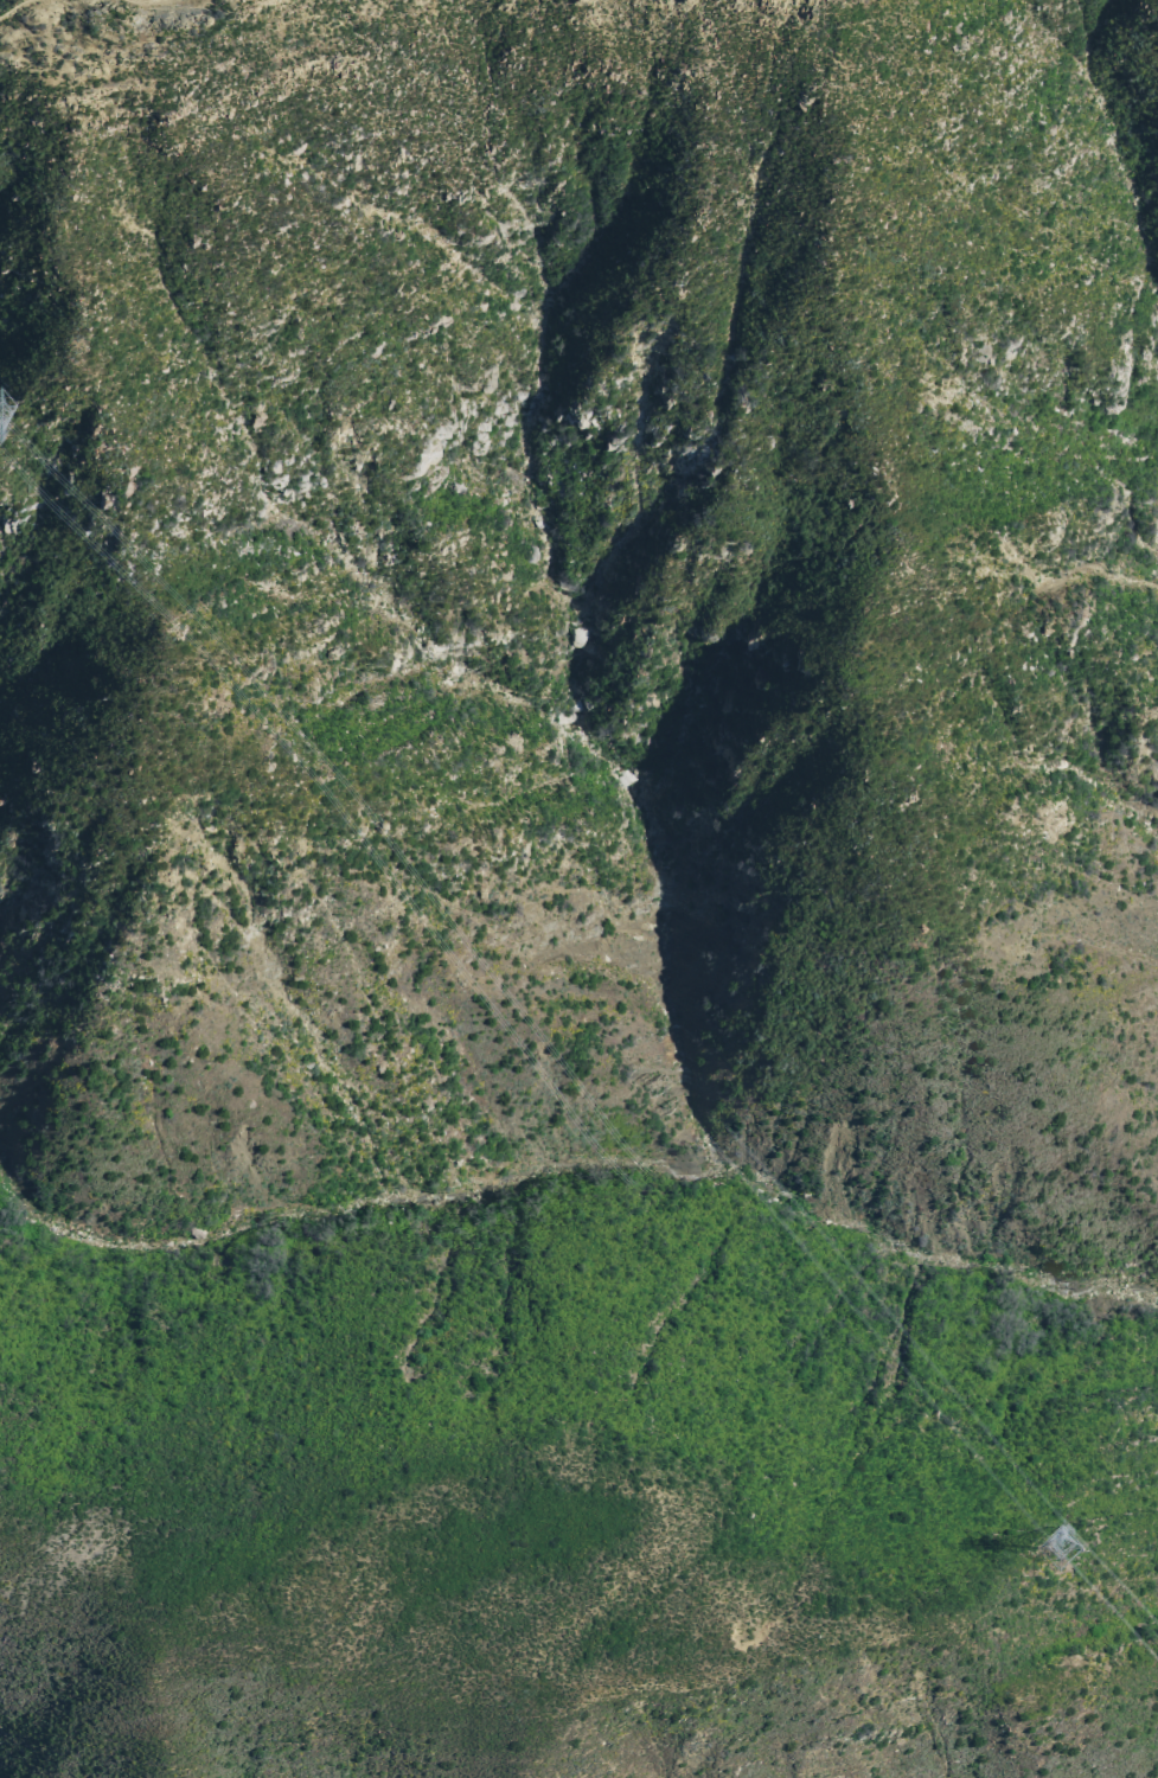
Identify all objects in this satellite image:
road: (12, 8)
road: (140, 8)
power tower: (1055, 1550)

